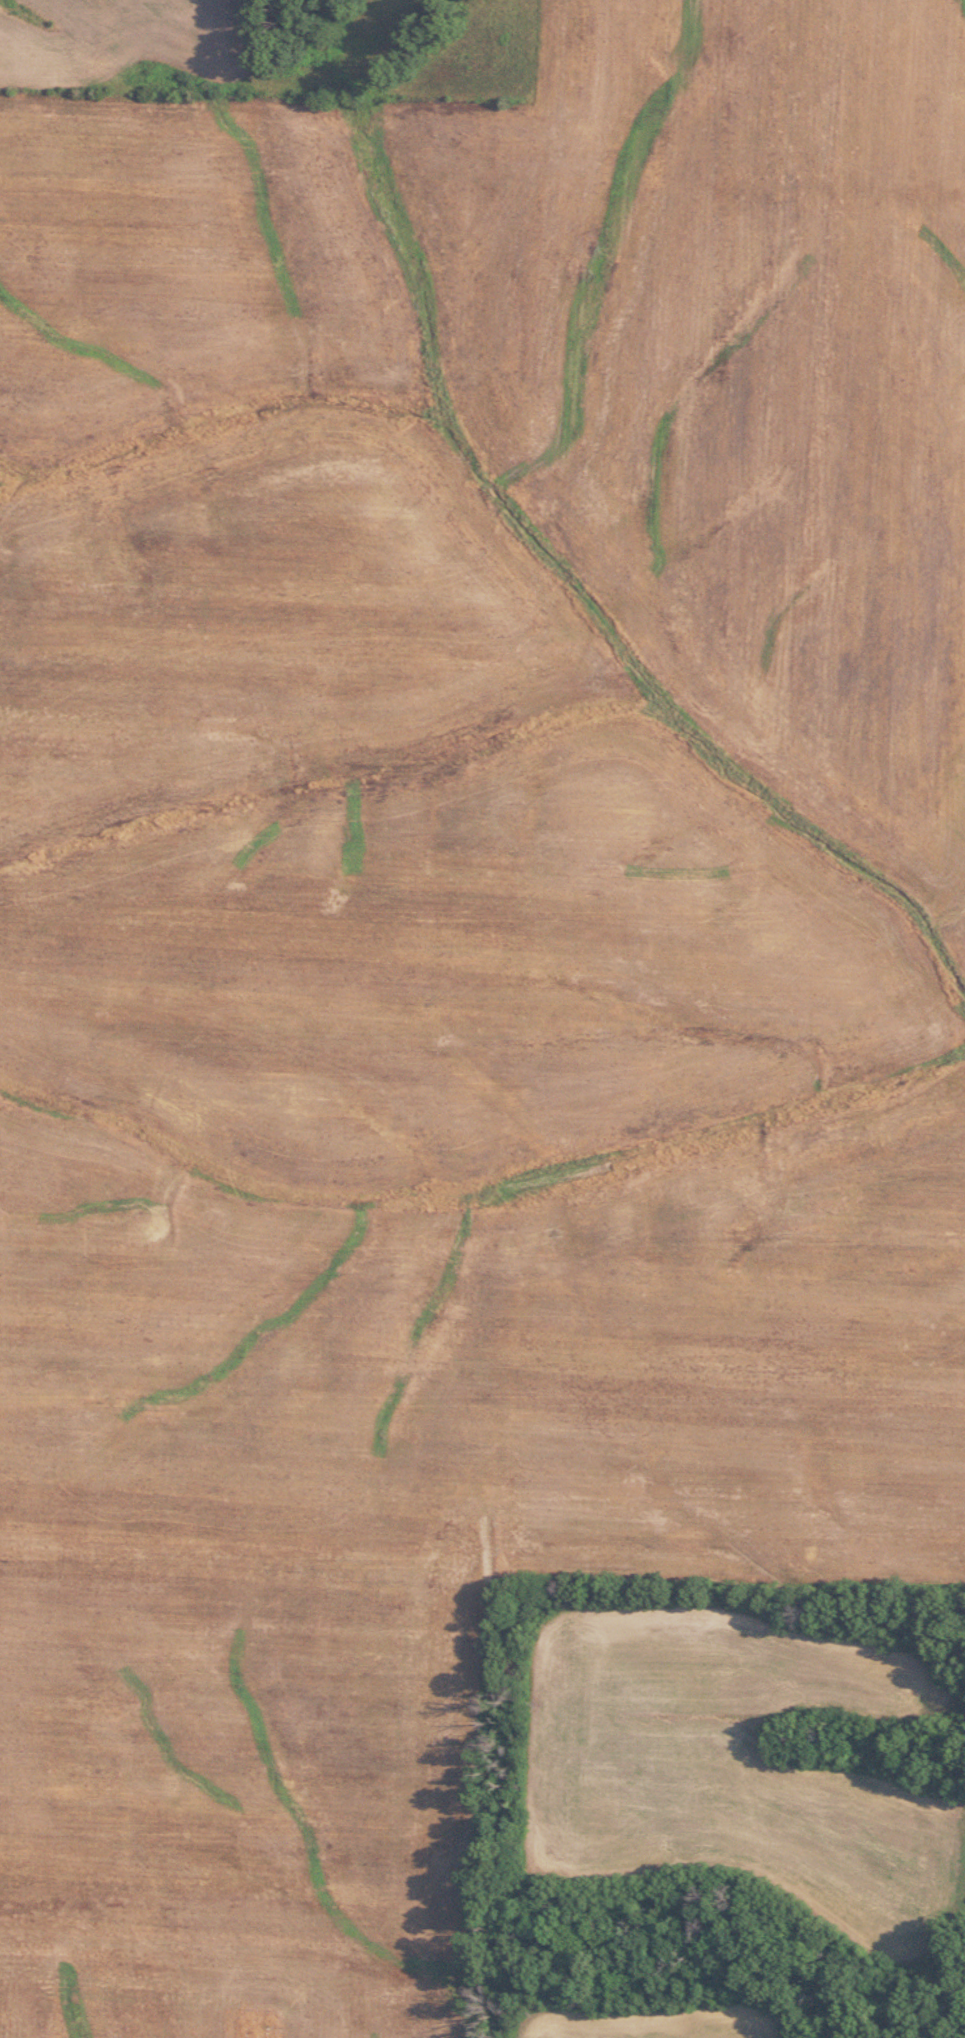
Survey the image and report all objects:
park: (260, 2020)

